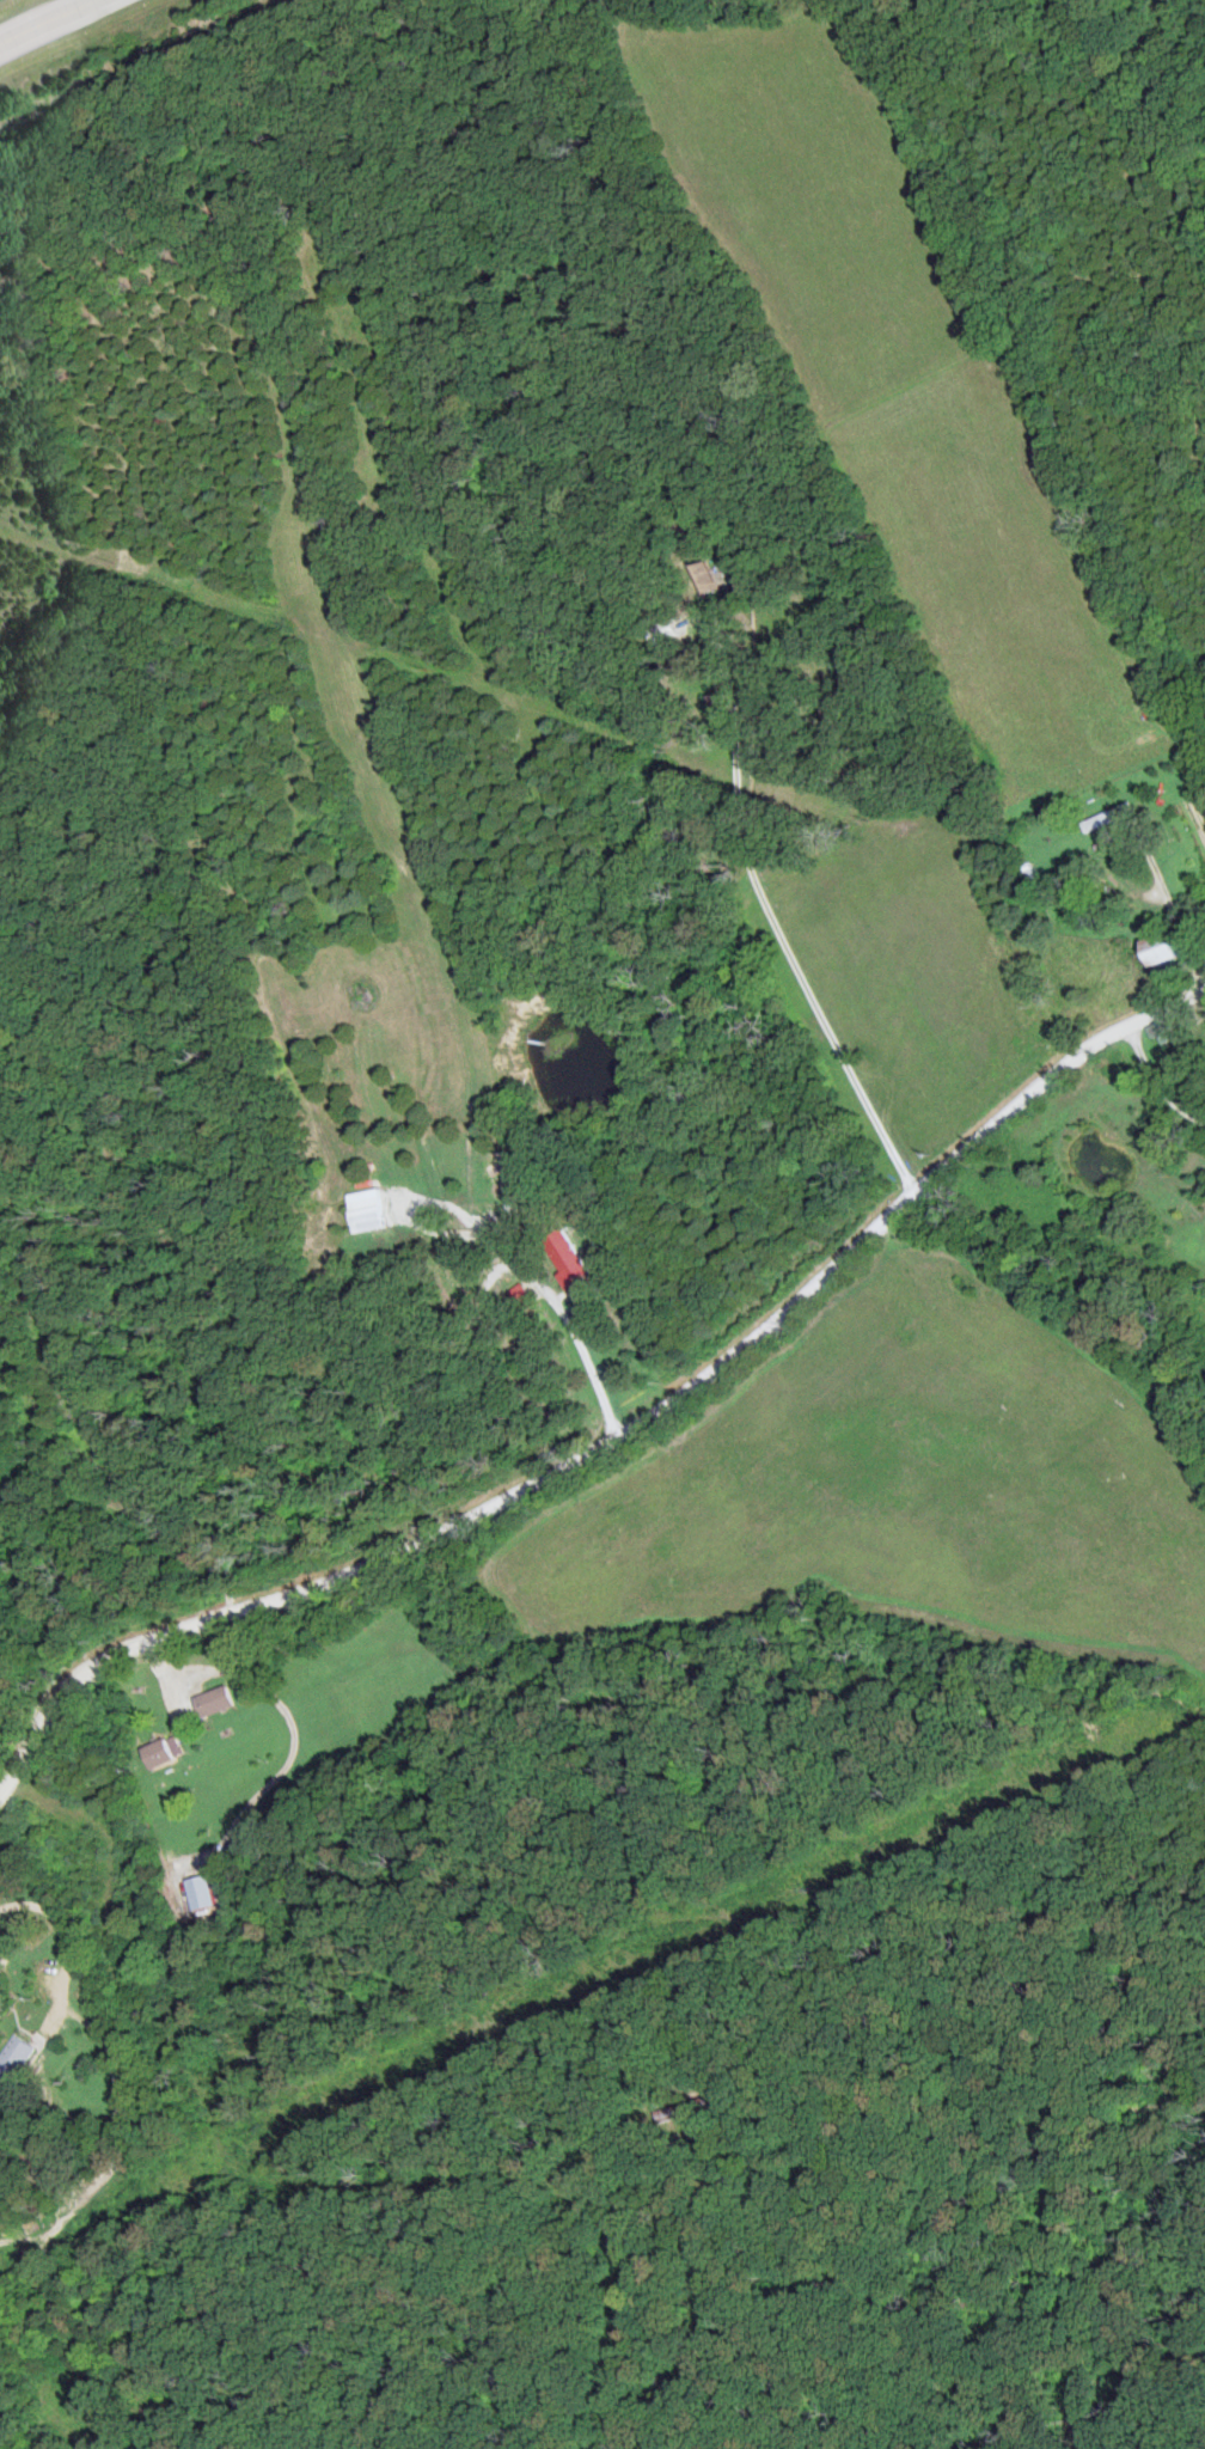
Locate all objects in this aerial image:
road: (41, 19)
building: (666, 633)
building: (1107, 819)
building: (1168, 949)
road: (794, 972)
building: (1160, 1039)
road: (1152, 1087)
building: (368, 1213)
building: (565, 1259)
road: (549, 1296)
road: (624, 1434)
building: (214, 1703)
building: (161, 1754)
road: (4, 1877)
building: (200, 1894)
building: (14, 2059)
building: (662, 2112)

